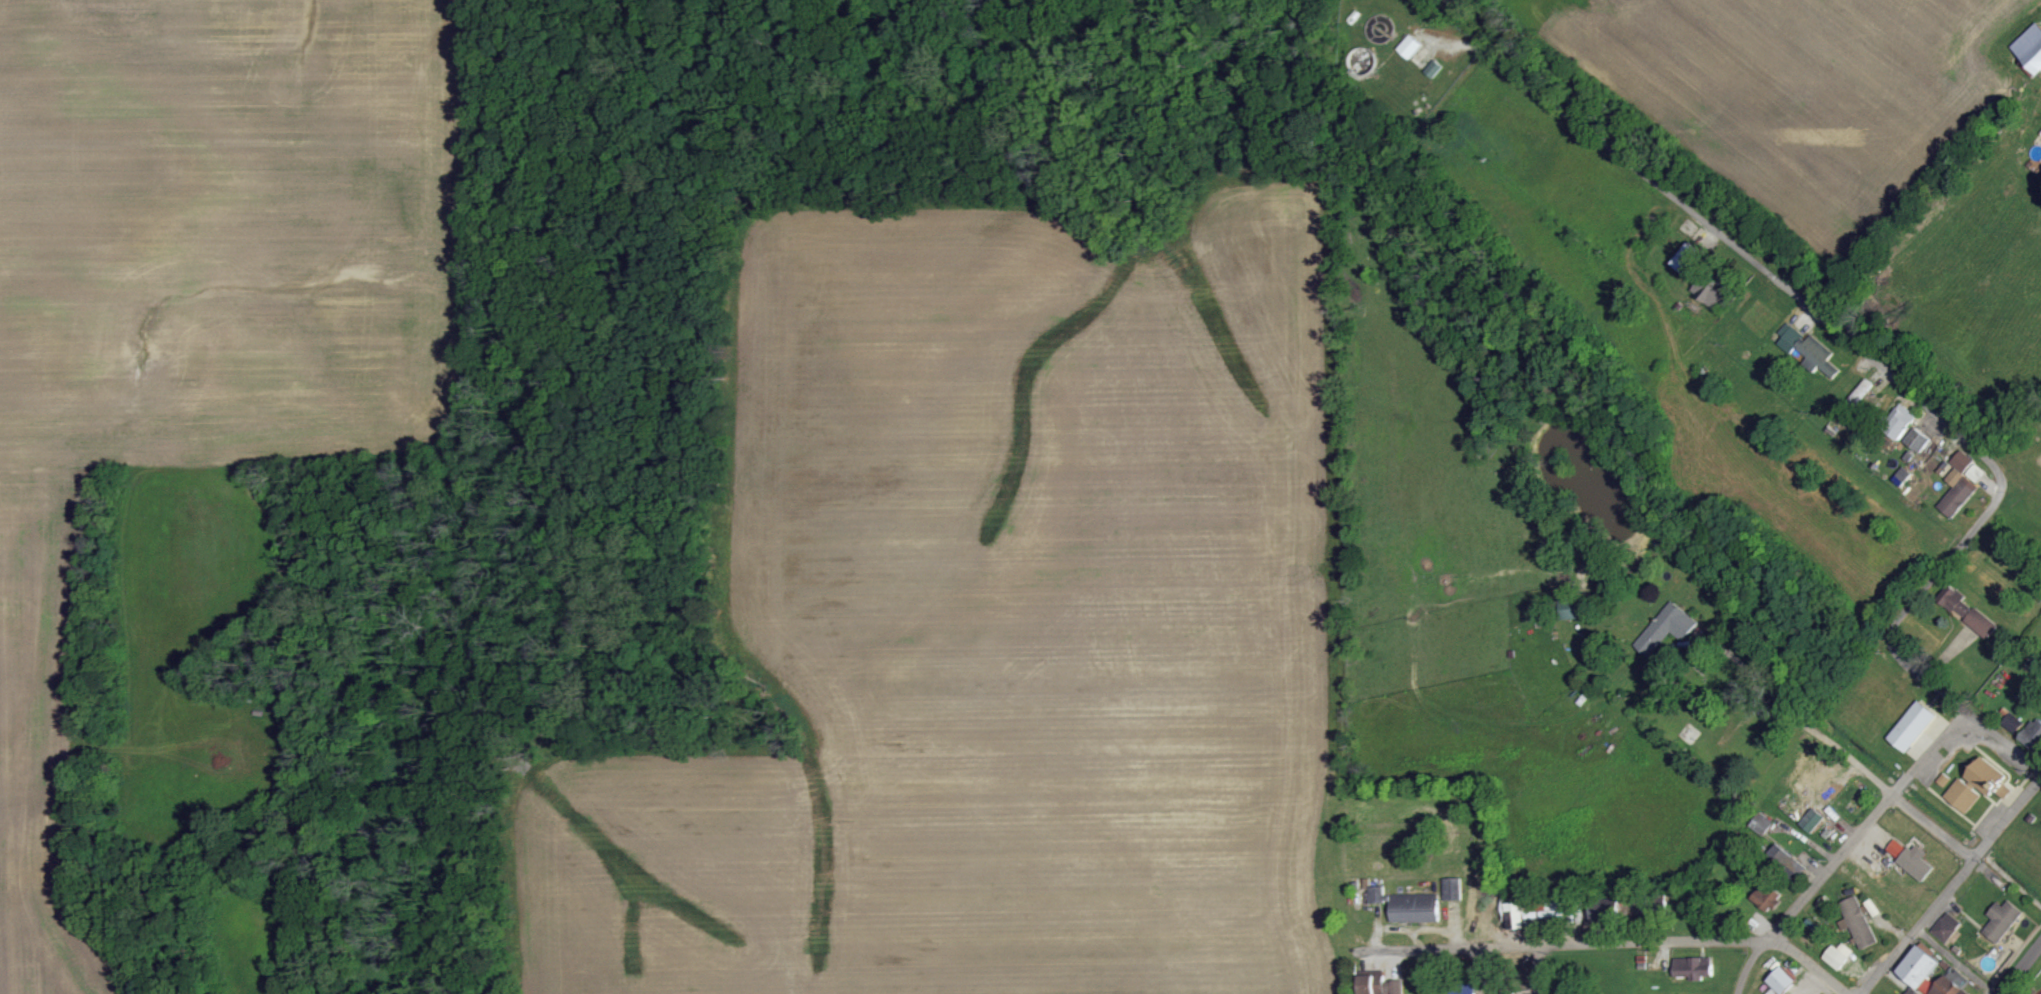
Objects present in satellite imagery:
building: (1411, 47)
building: (2031, 51)
building: (1435, 69)
building: (1689, 260)
building: (1713, 293)
building: (1811, 351)
road: (1902, 387)
building: (1860, 394)
building: (1900, 422)
building: (1919, 441)
building: (1903, 477)
building: (1962, 484)
building: (1573, 608)
building: (1972, 615)
building: (1669, 626)
road: (1695, 649)
building: (2013, 722)
building: (1911, 724)
road: (1826, 733)
building: (2033, 734)
building: (1921, 746)
building: (1817, 776)
building: (1988, 776)
building: (1945, 779)
building: (1964, 795)
building: (1812, 821)
building: (1763, 824)
road: (1844, 848)
building: (1897, 848)
building: (1787, 860)
building: (1918, 862)
road: (1952, 886)
building: (1454, 888)
building: (1769, 897)
building: (1409, 905)
building: (1554, 910)
building: (1517, 915)
building: (2004, 920)
building: (1859, 922)
building: (1947, 927)
road: (1616, 944)
building: (1840, 955)
building: (1921, 966)
building: (1695, 967)
road: (2021, 969)
road: (1542, 970)
building: (1783, 980)
building: (1952, 983)
building: (1380, 984)
building: (1463, 988)
building: (1914, 991)
building: (1506, 992)

